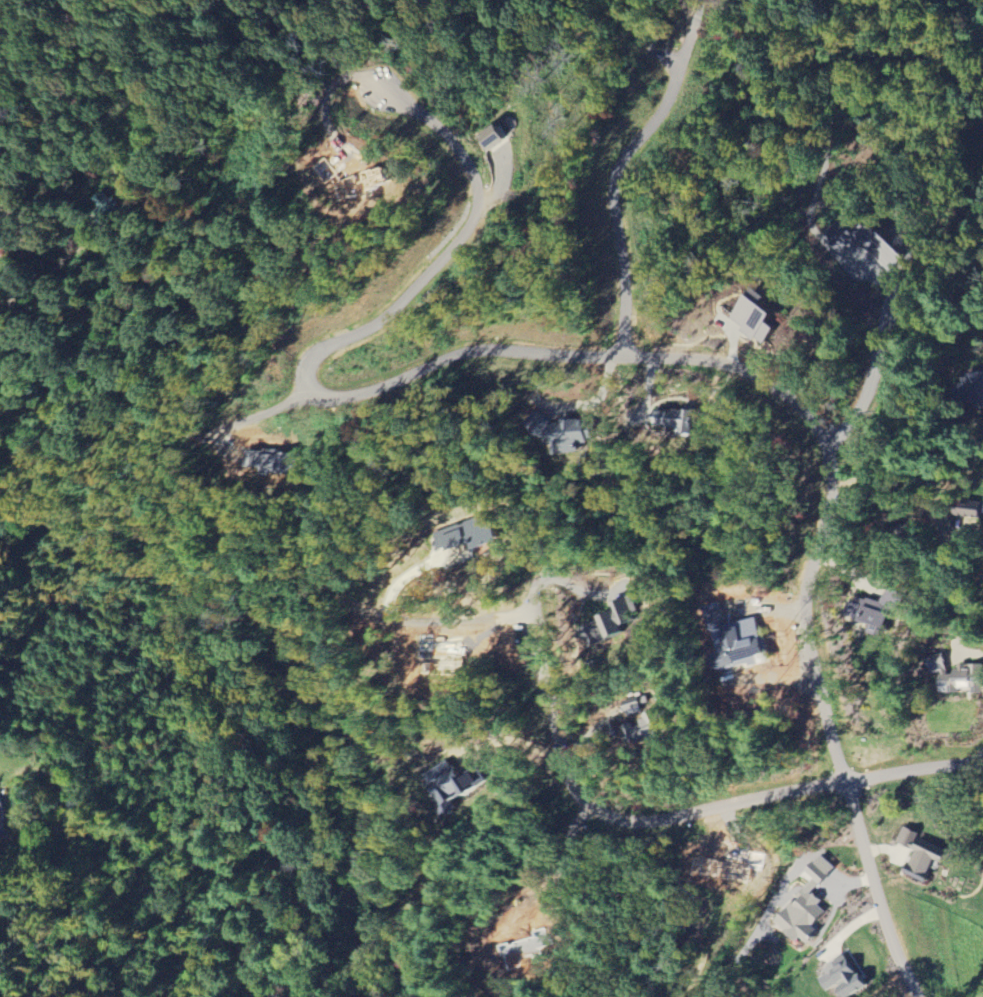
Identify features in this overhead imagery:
road: (692, 33)
building: (496, 136)
road: (609, 198)
building: (114, 206)
building: (4, 250)
road: (53, 269)
building: (761, 317)
road: (523, 348)
road: (870, 378)
building: (980, 386)
building: (682, 421)
building: (568, 433)
road: (896, 484)
building: (475, 534)
building: (882, 609)
building: (620, 621)
road: (430, 624)
building: (736, 638)
building: (960, 676)
building: (634, 708)
building: (656, 724)
road: (509, 746)
road: (837, 762)
road: (912, 763)
road: (609, 815)
building: (3, 822)
building: (925, 854)
road: (874, 889)
building: (812, 906)
building: (848, 979)

